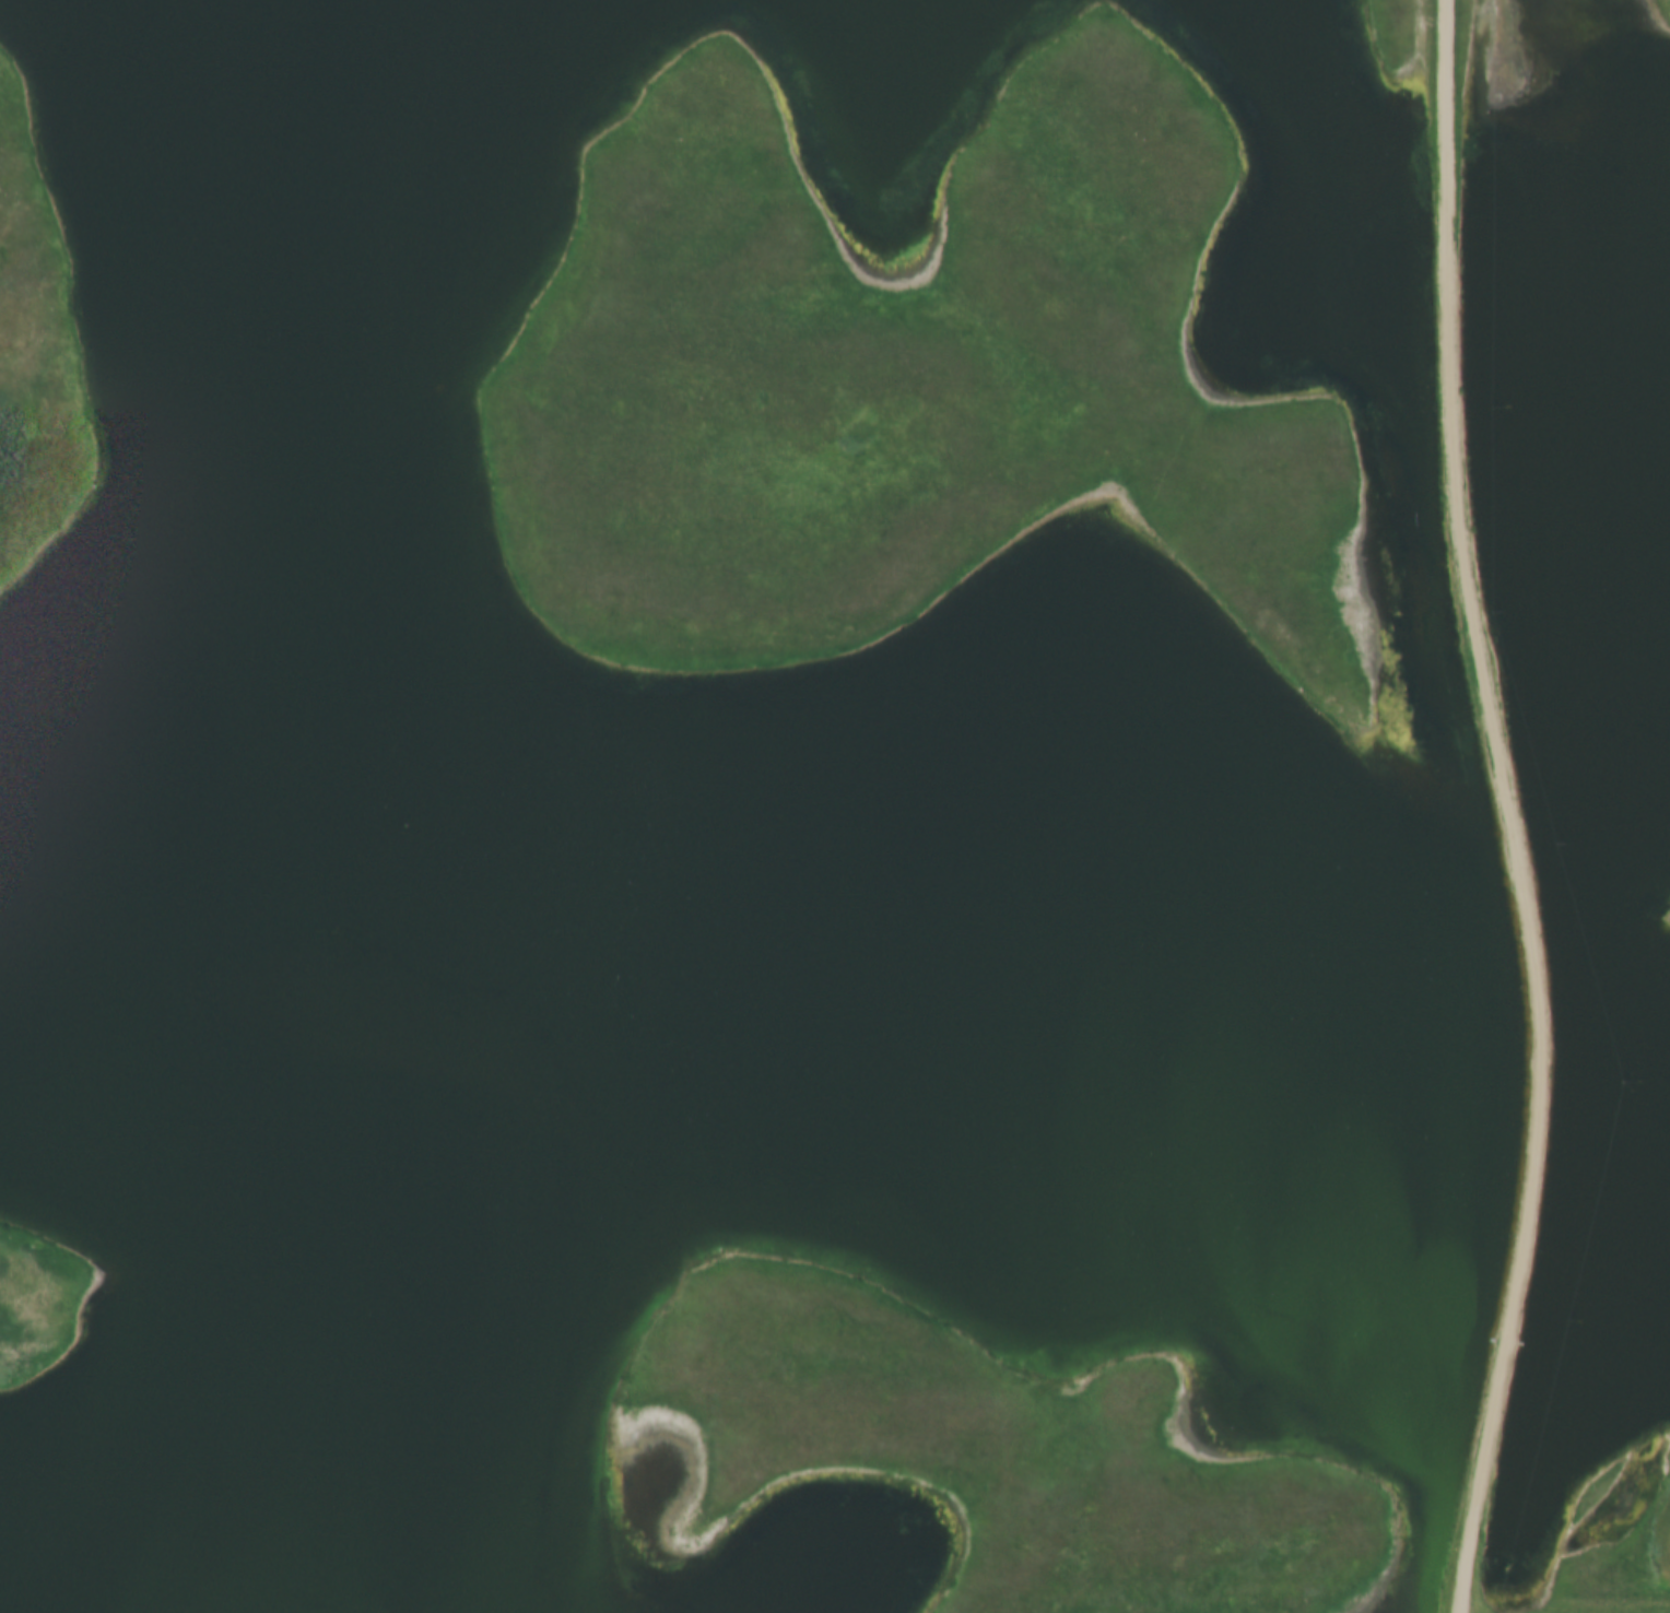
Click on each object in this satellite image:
road: (1507, 809)

